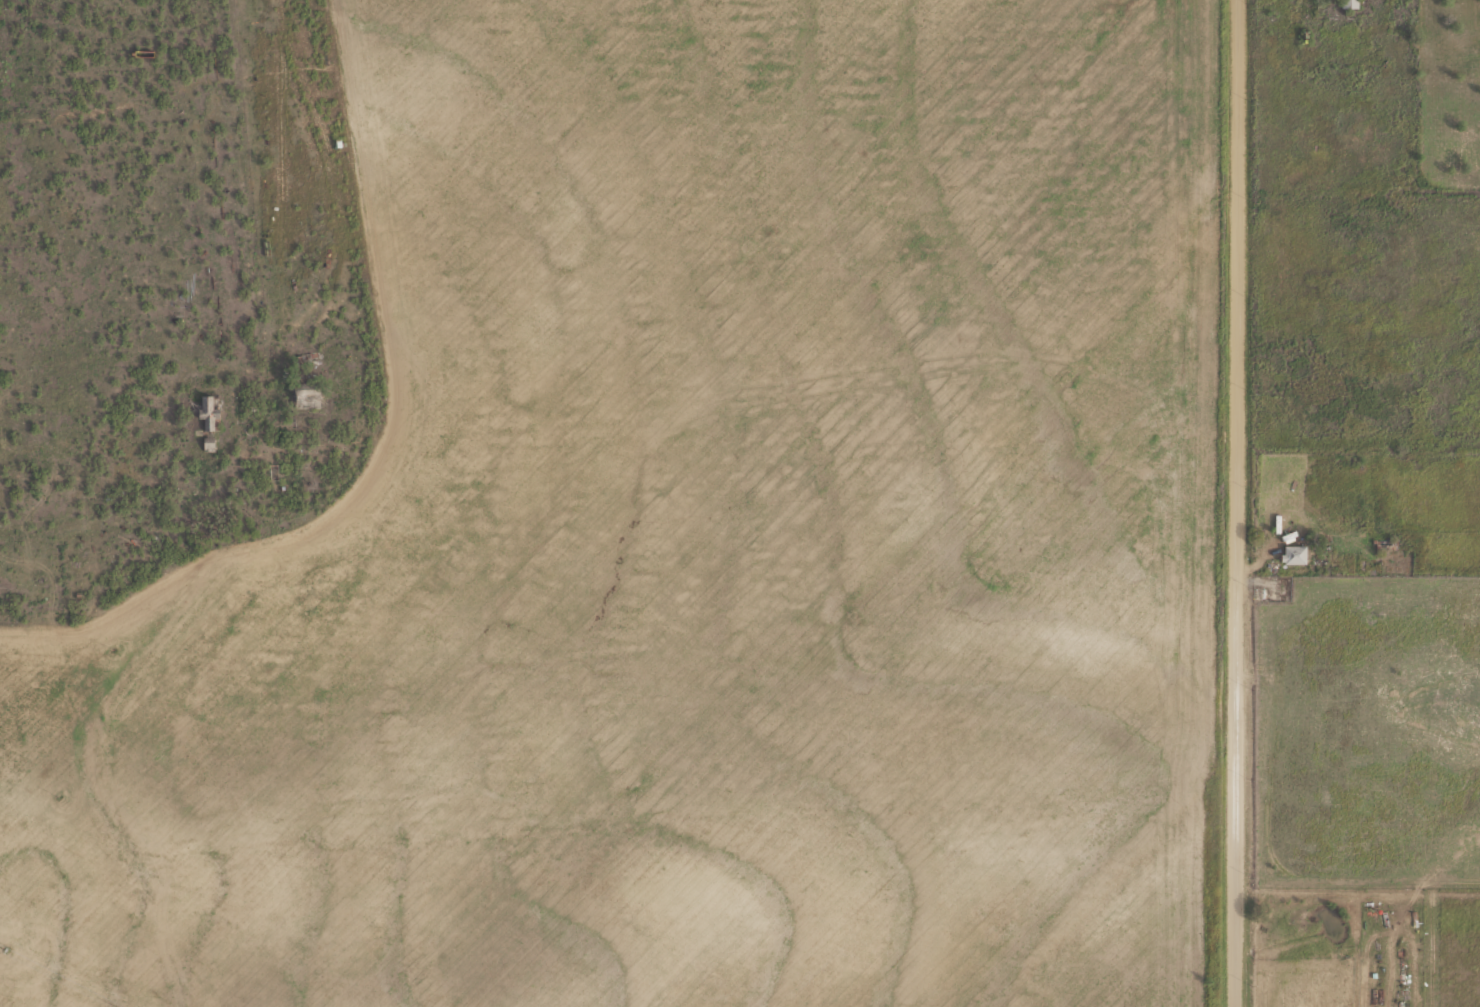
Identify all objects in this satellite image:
building: (1348, 3)
road: (246, 201)
road: (1238, 219)
building: (302, 394)
building: (208, 412)
building: (1293, 553)
road: (1238, 723)

